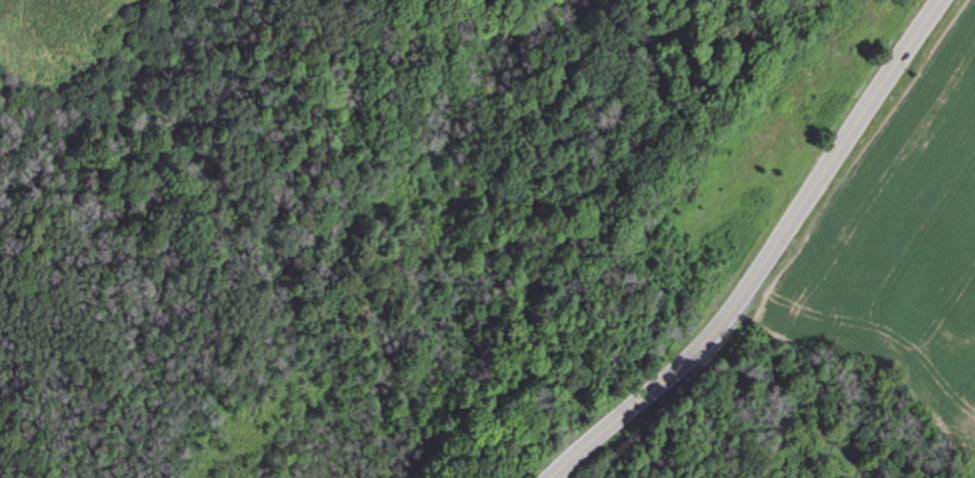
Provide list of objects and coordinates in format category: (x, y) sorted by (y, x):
road: (561, 207)
crop: (904, 243)
road: (767, 257)

